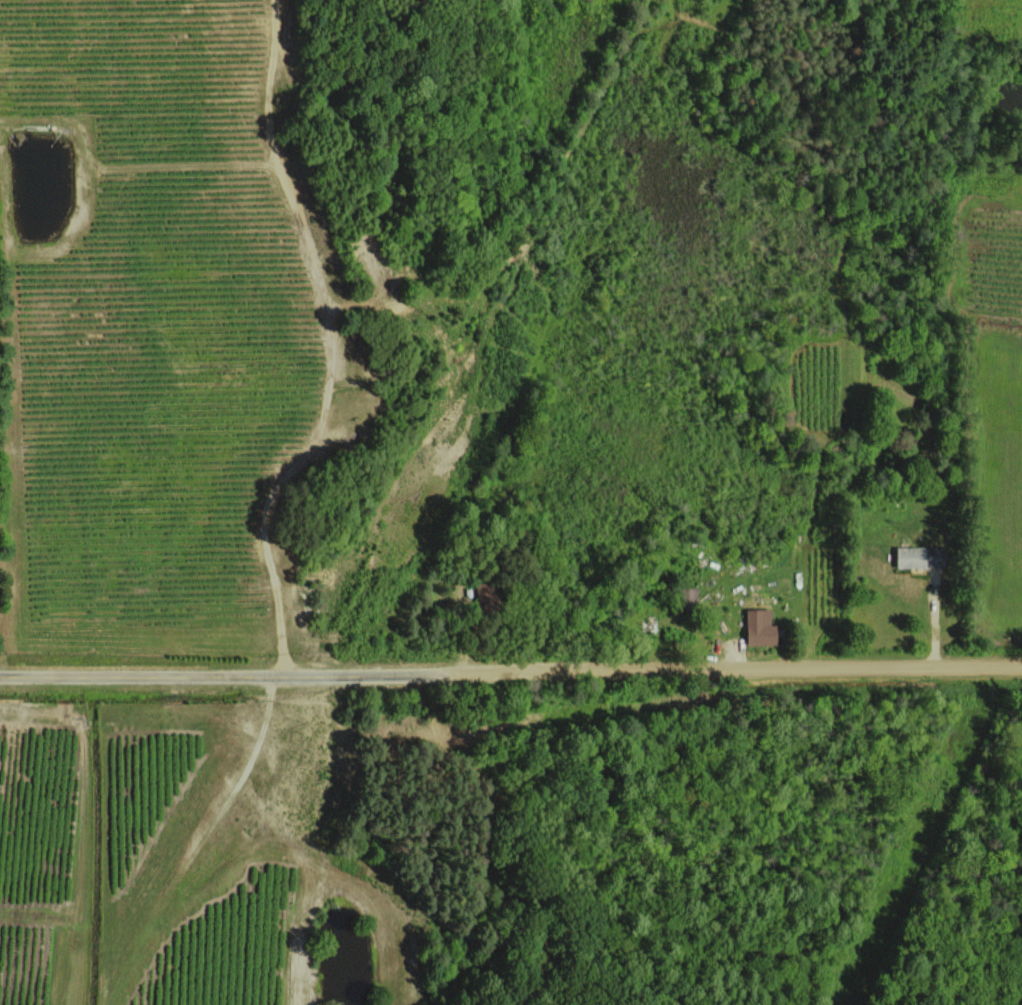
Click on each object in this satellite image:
building: (910, 556)
building: (760, 626)
road: (511, 670)

